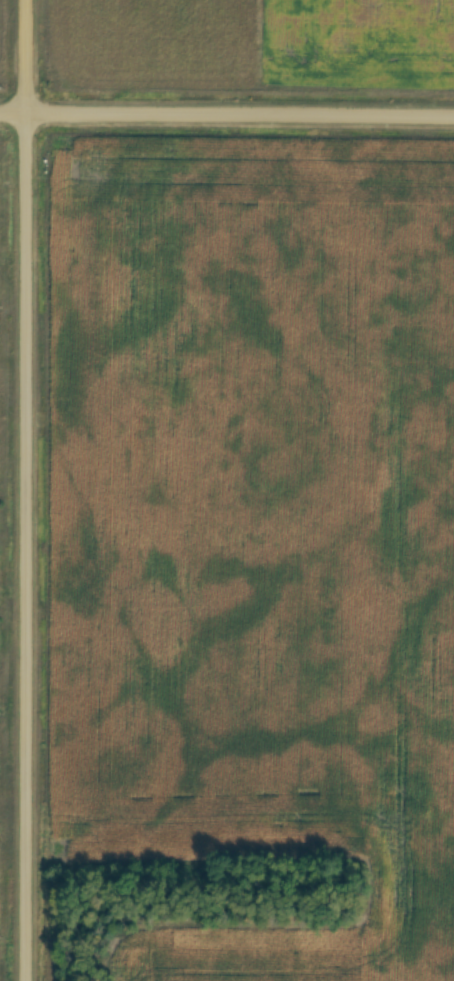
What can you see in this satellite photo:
road: (227, 112)
road: (24, 490)

